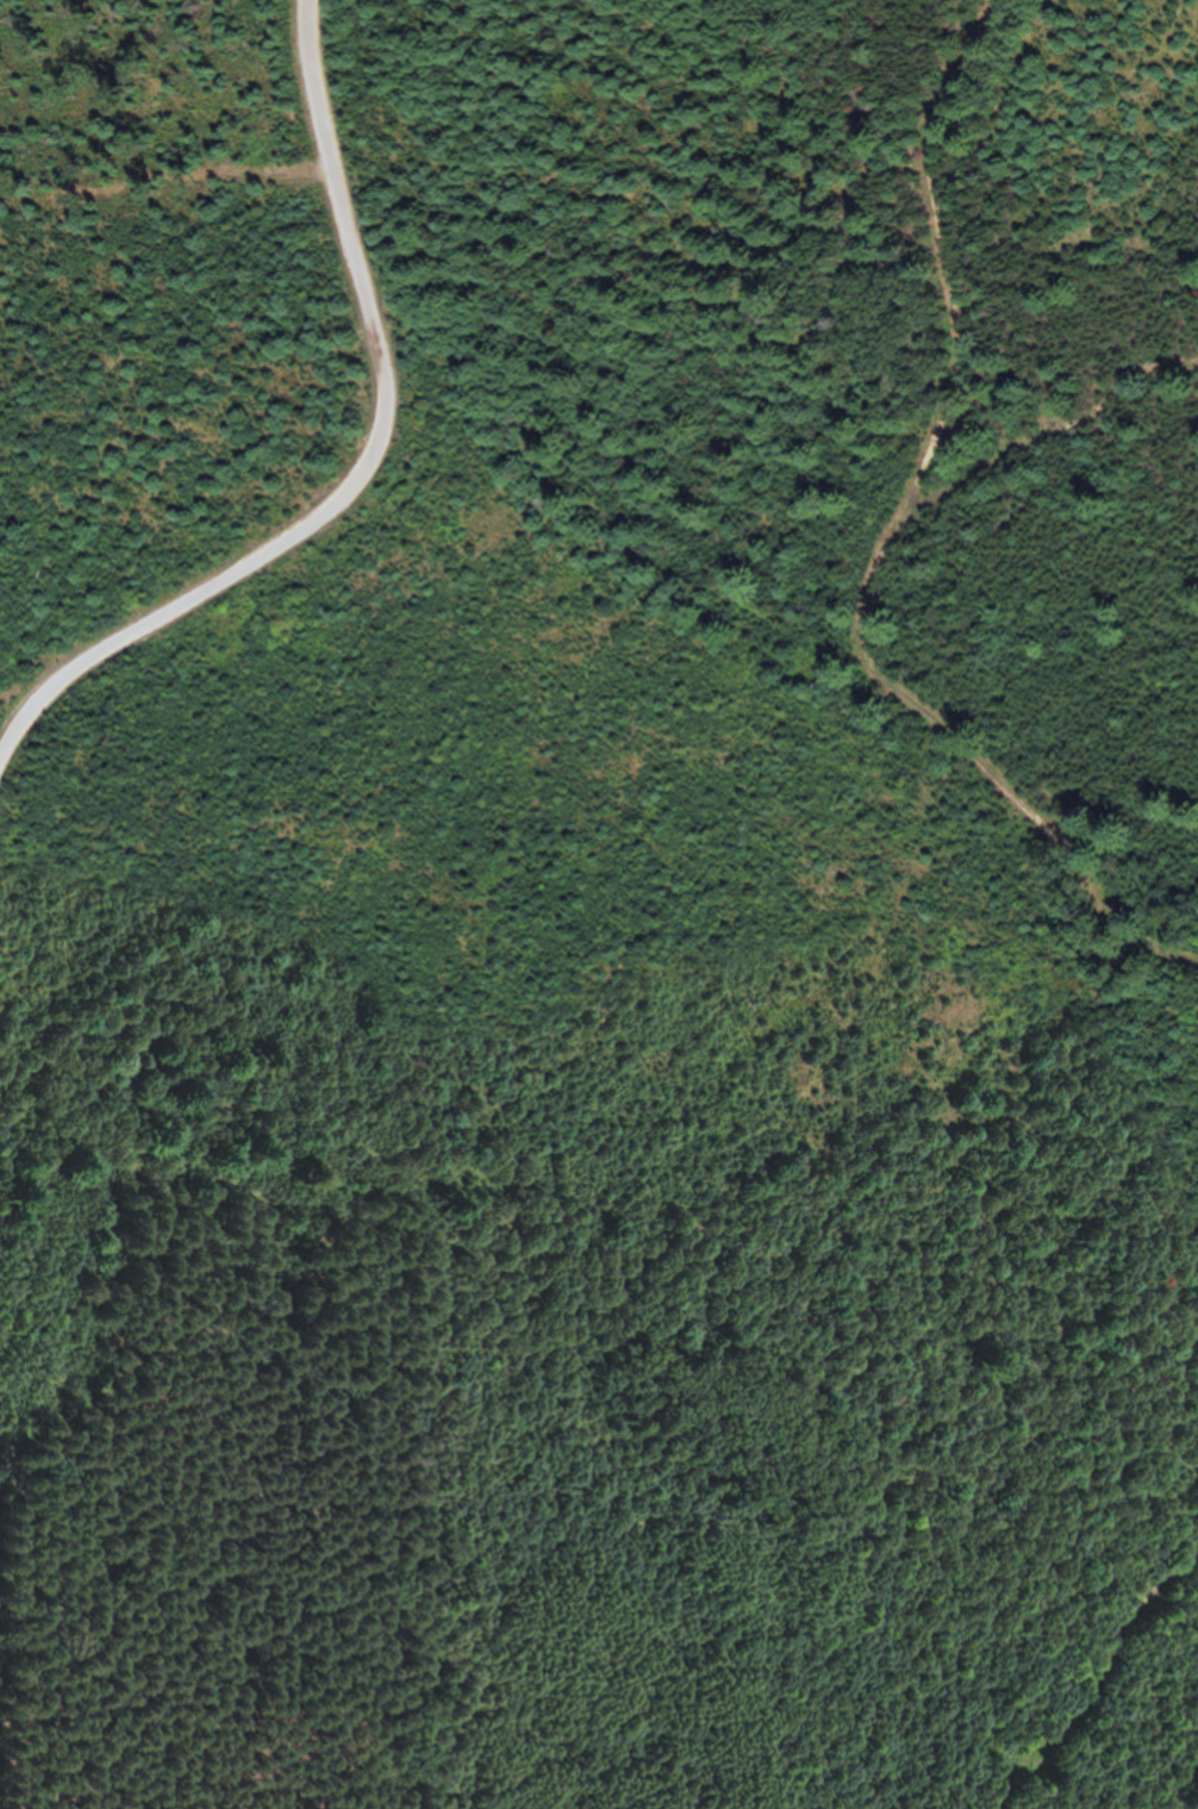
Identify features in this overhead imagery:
road: (352, 461)

